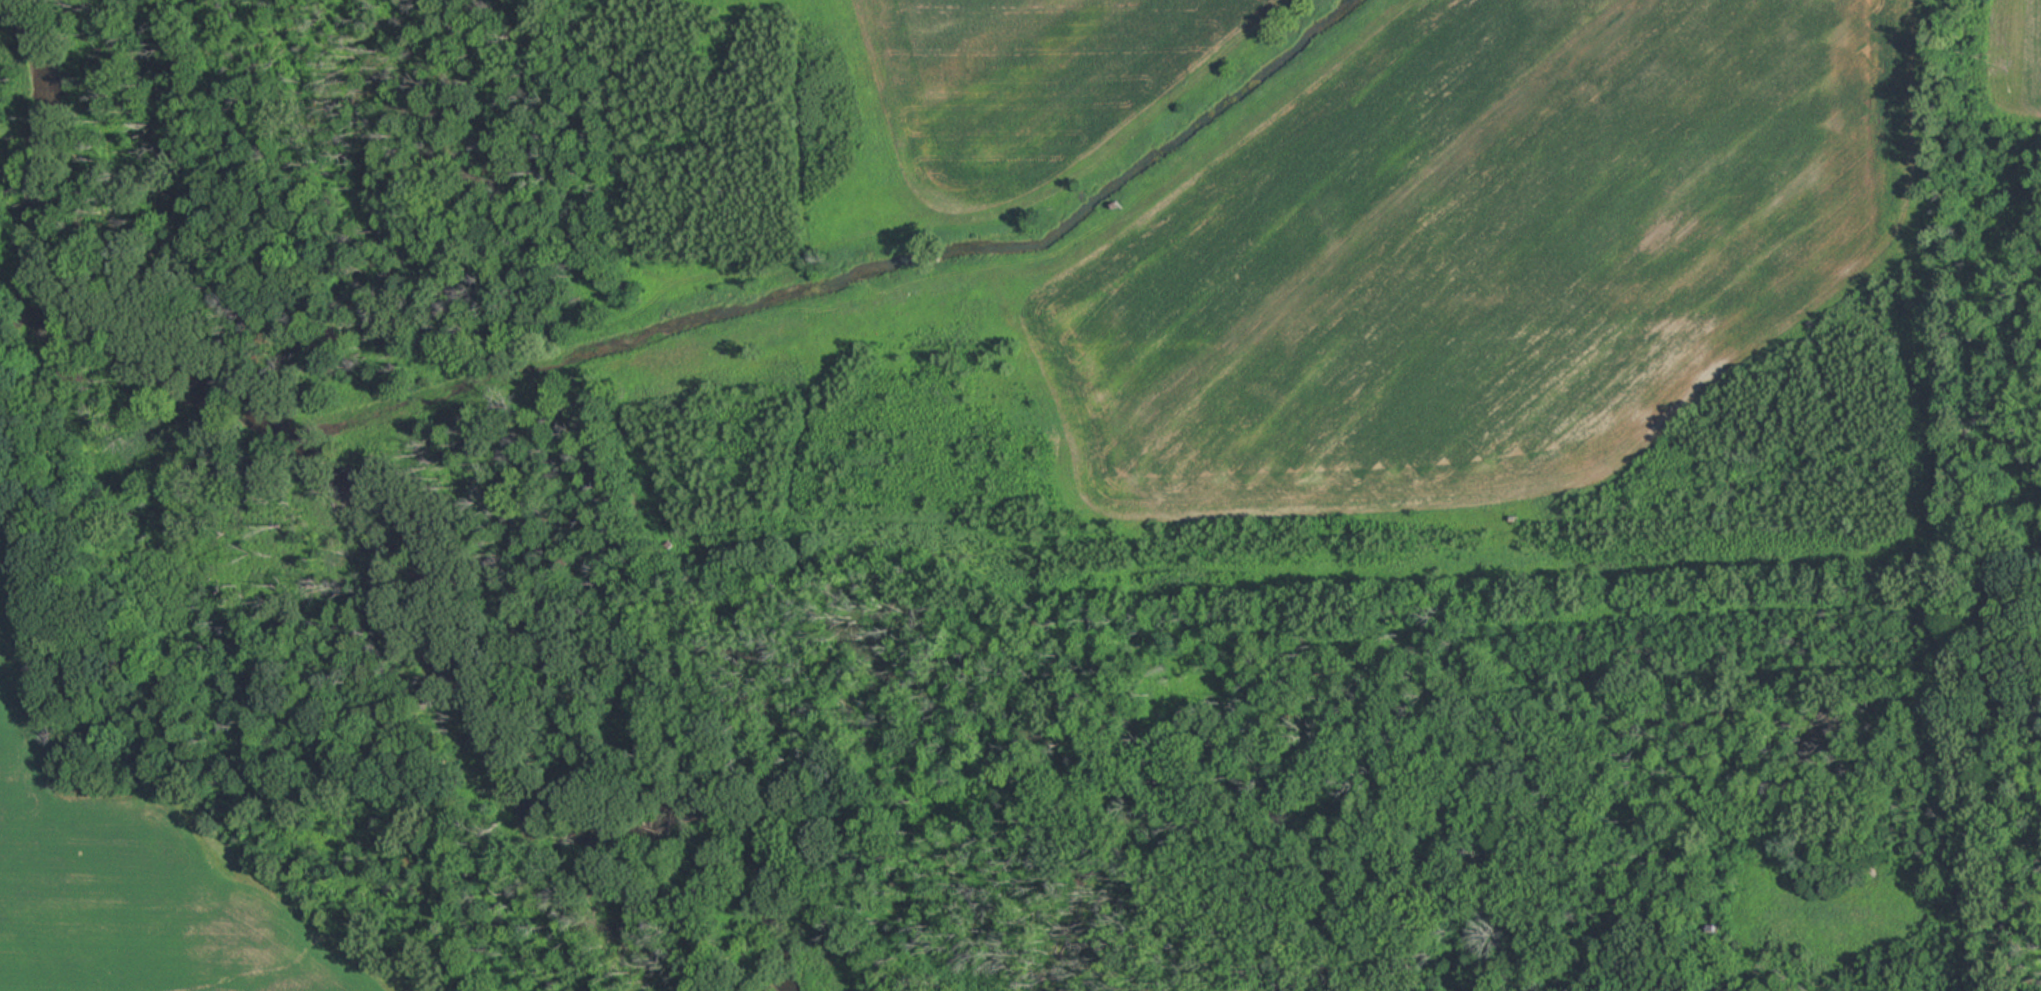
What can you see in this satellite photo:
river: (402, 500)

